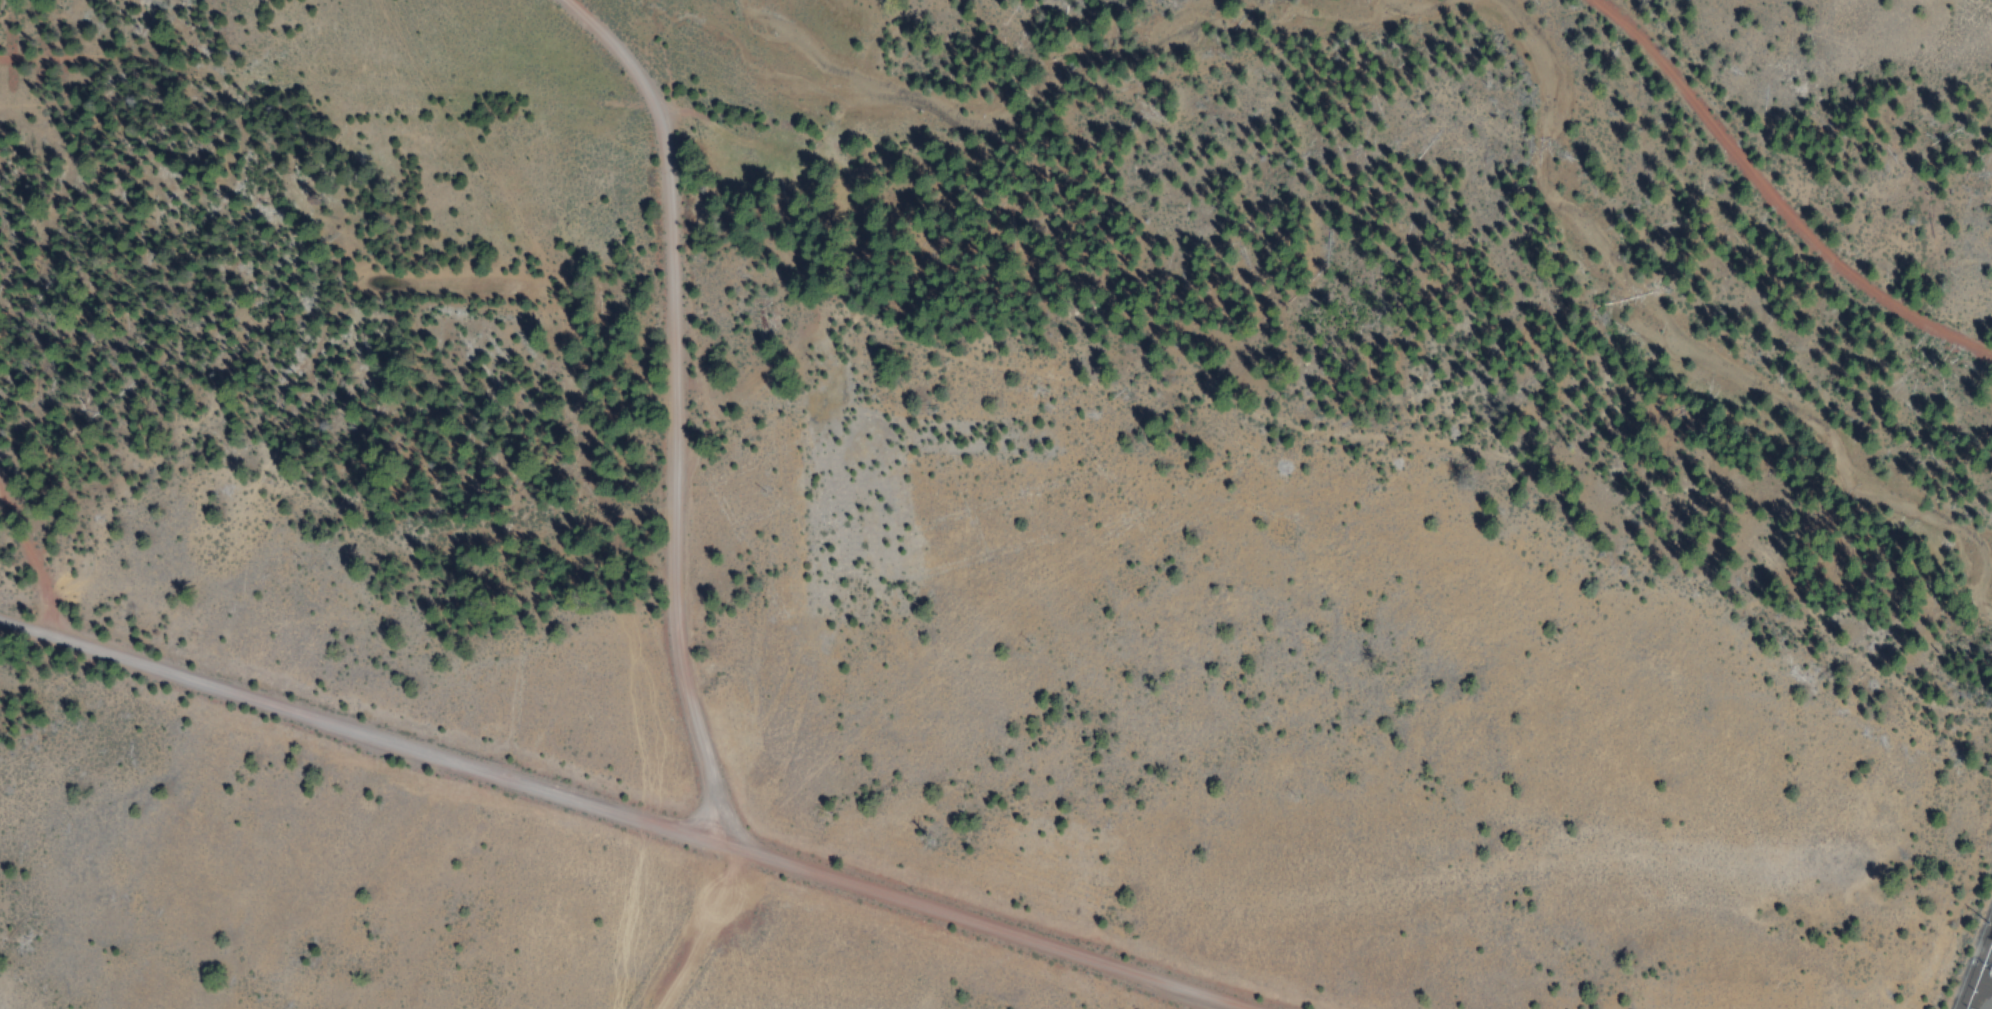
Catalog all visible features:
road: (324, 78)
road: (62, 469)
road: (297, 548)
road: (713, 785)
road: (997, 925)
road: (700, 927)
power substation: (1976, 968)

